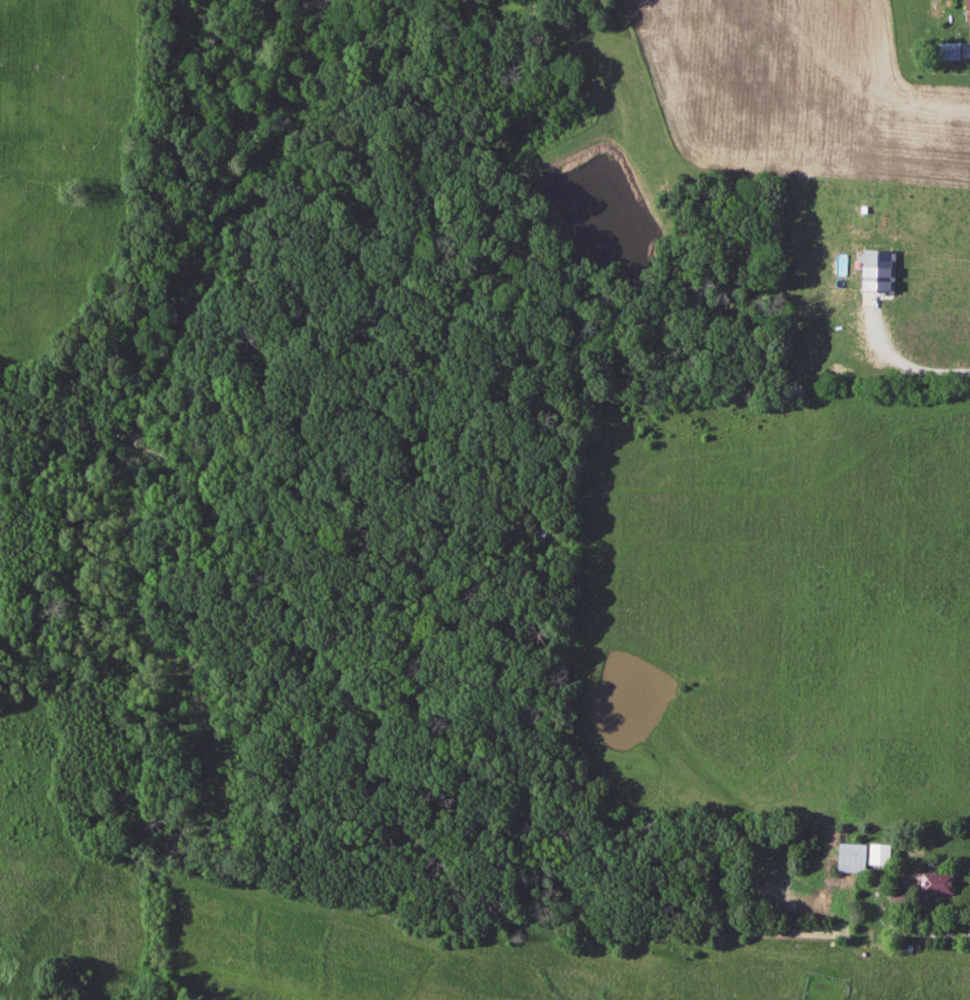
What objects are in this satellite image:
building: (955, 52)
road: (908, 366)
building: (535, 537)
building: (859, 857)
building: (934, 885)
road: (900, 932)

